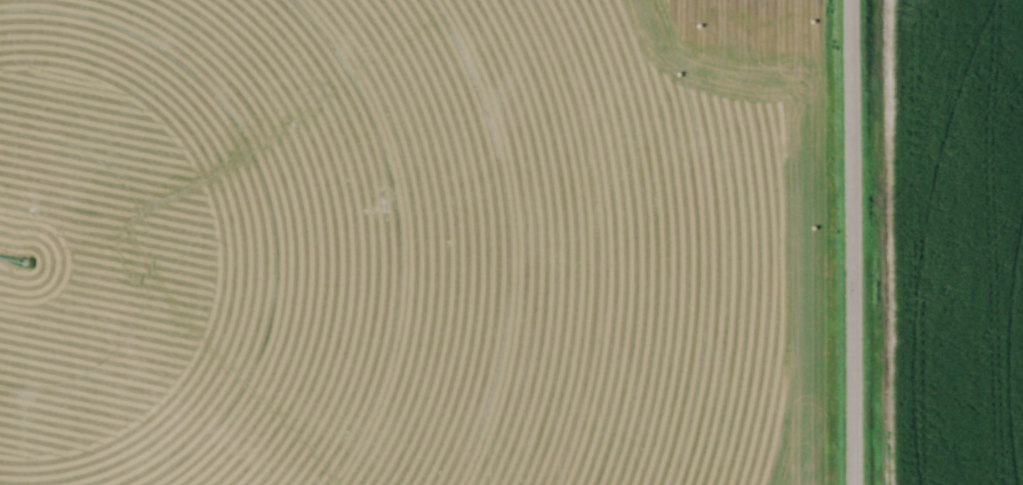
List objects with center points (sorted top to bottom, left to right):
road: (855, 242)

